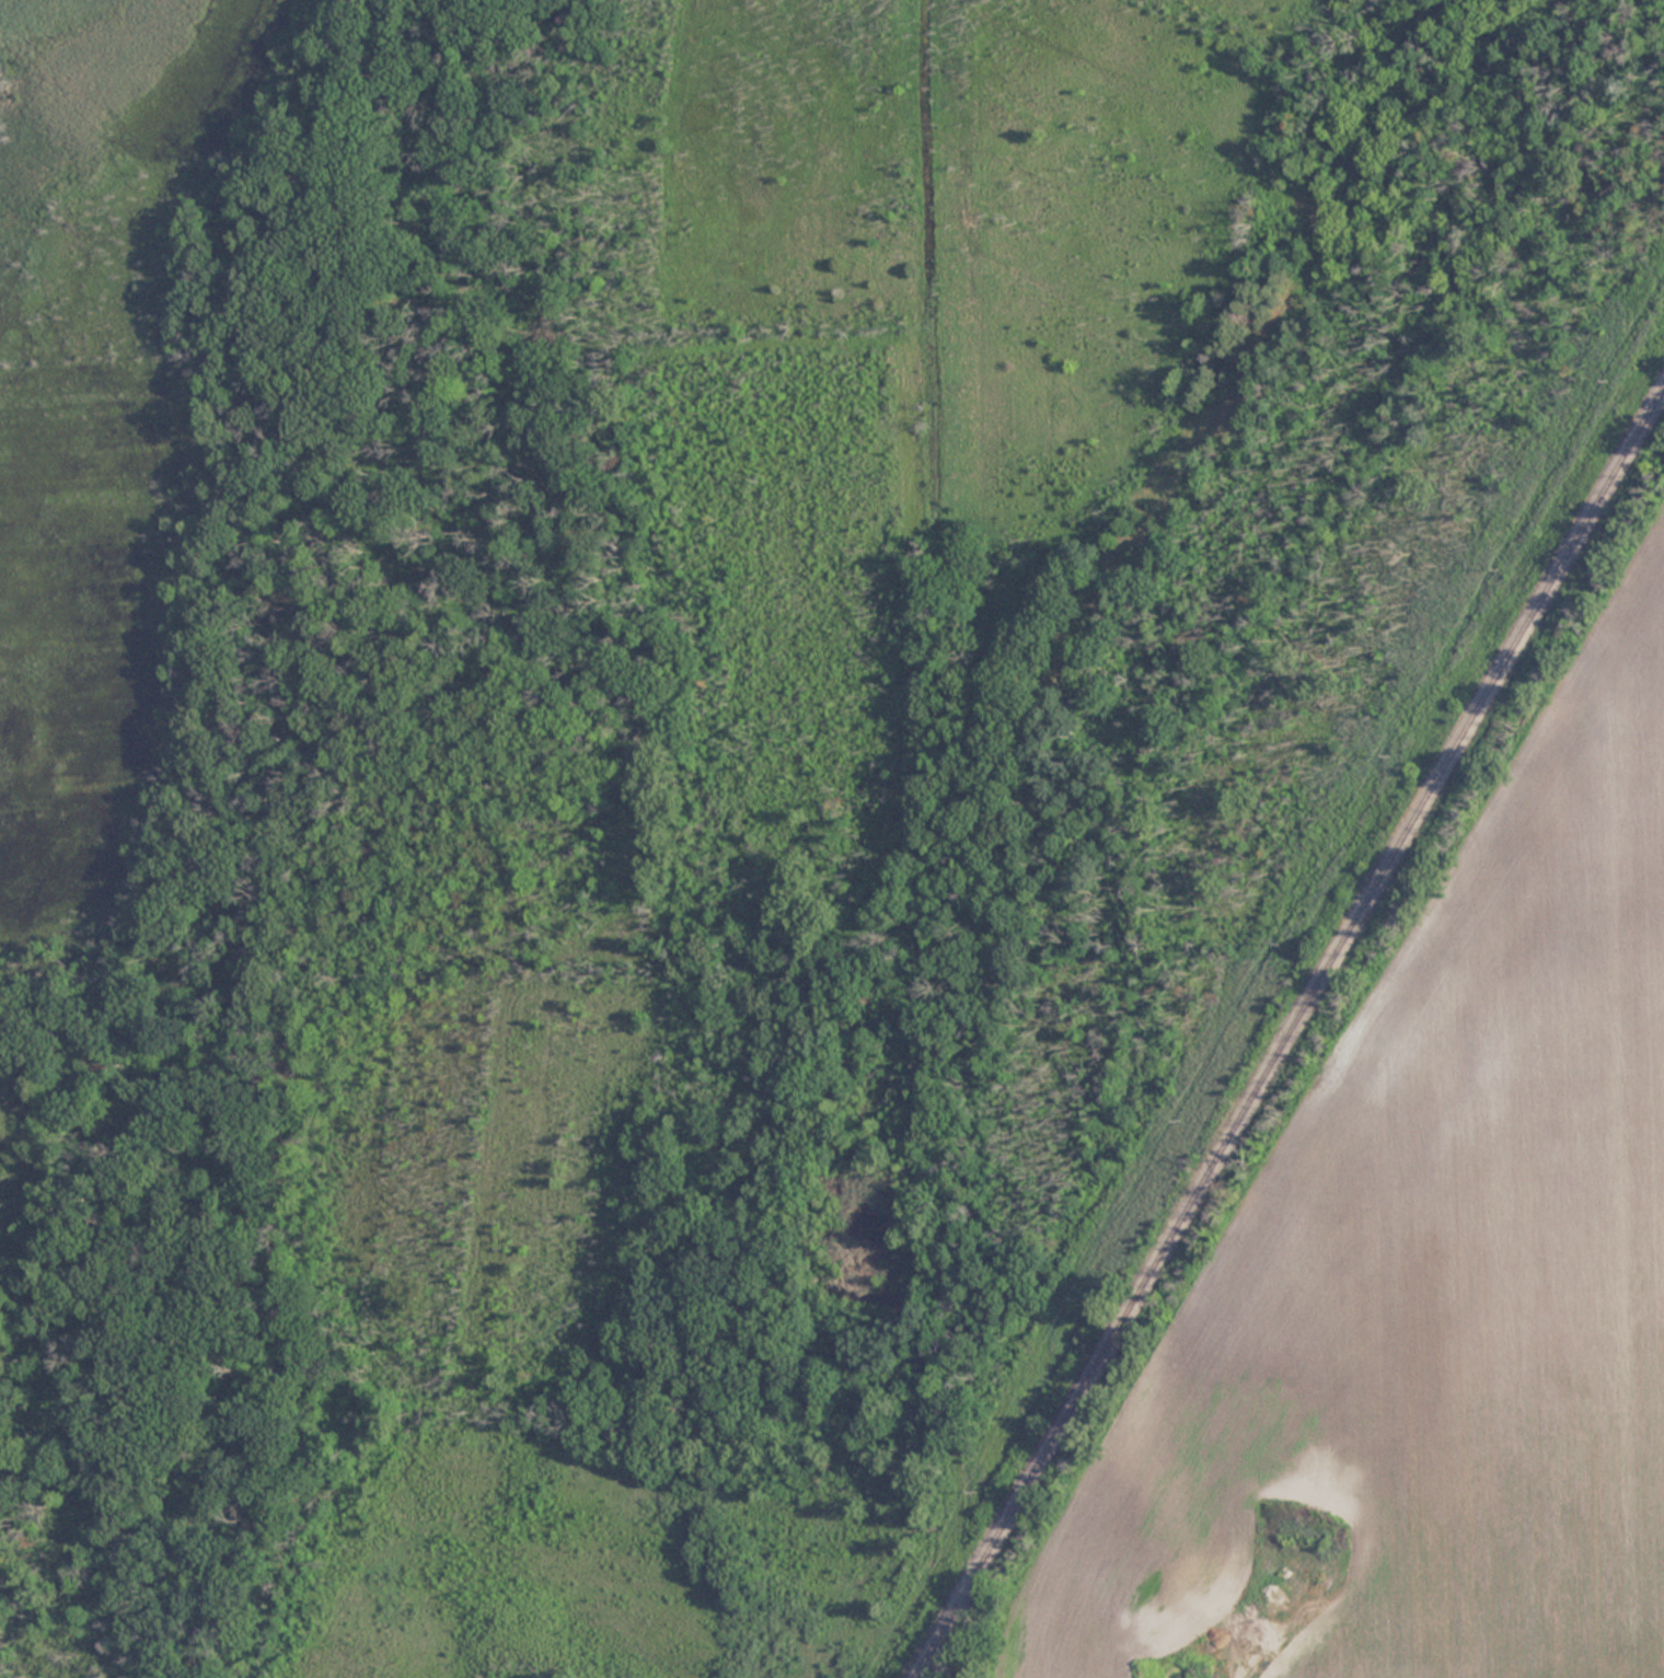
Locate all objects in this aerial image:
railway: (1290, 1031)

